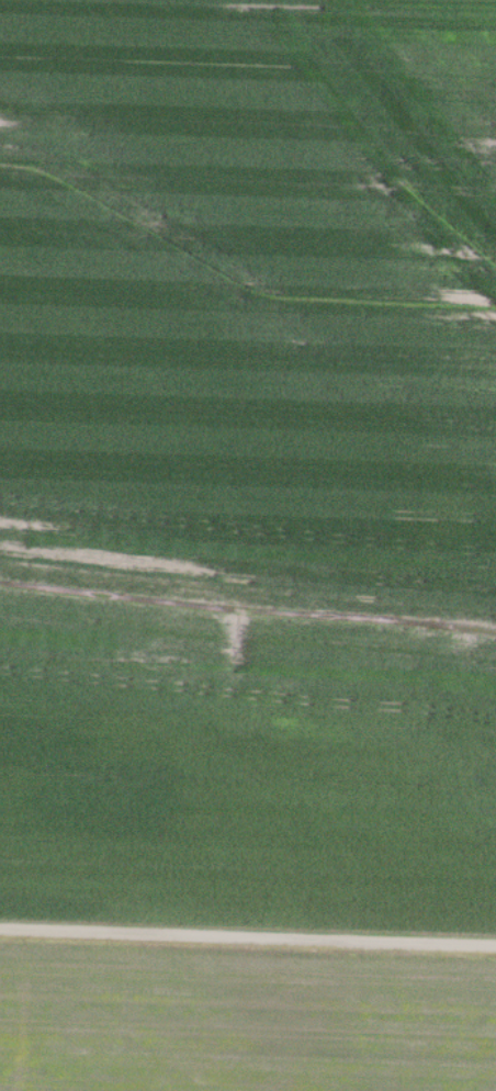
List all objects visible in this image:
road: (248, 931)

